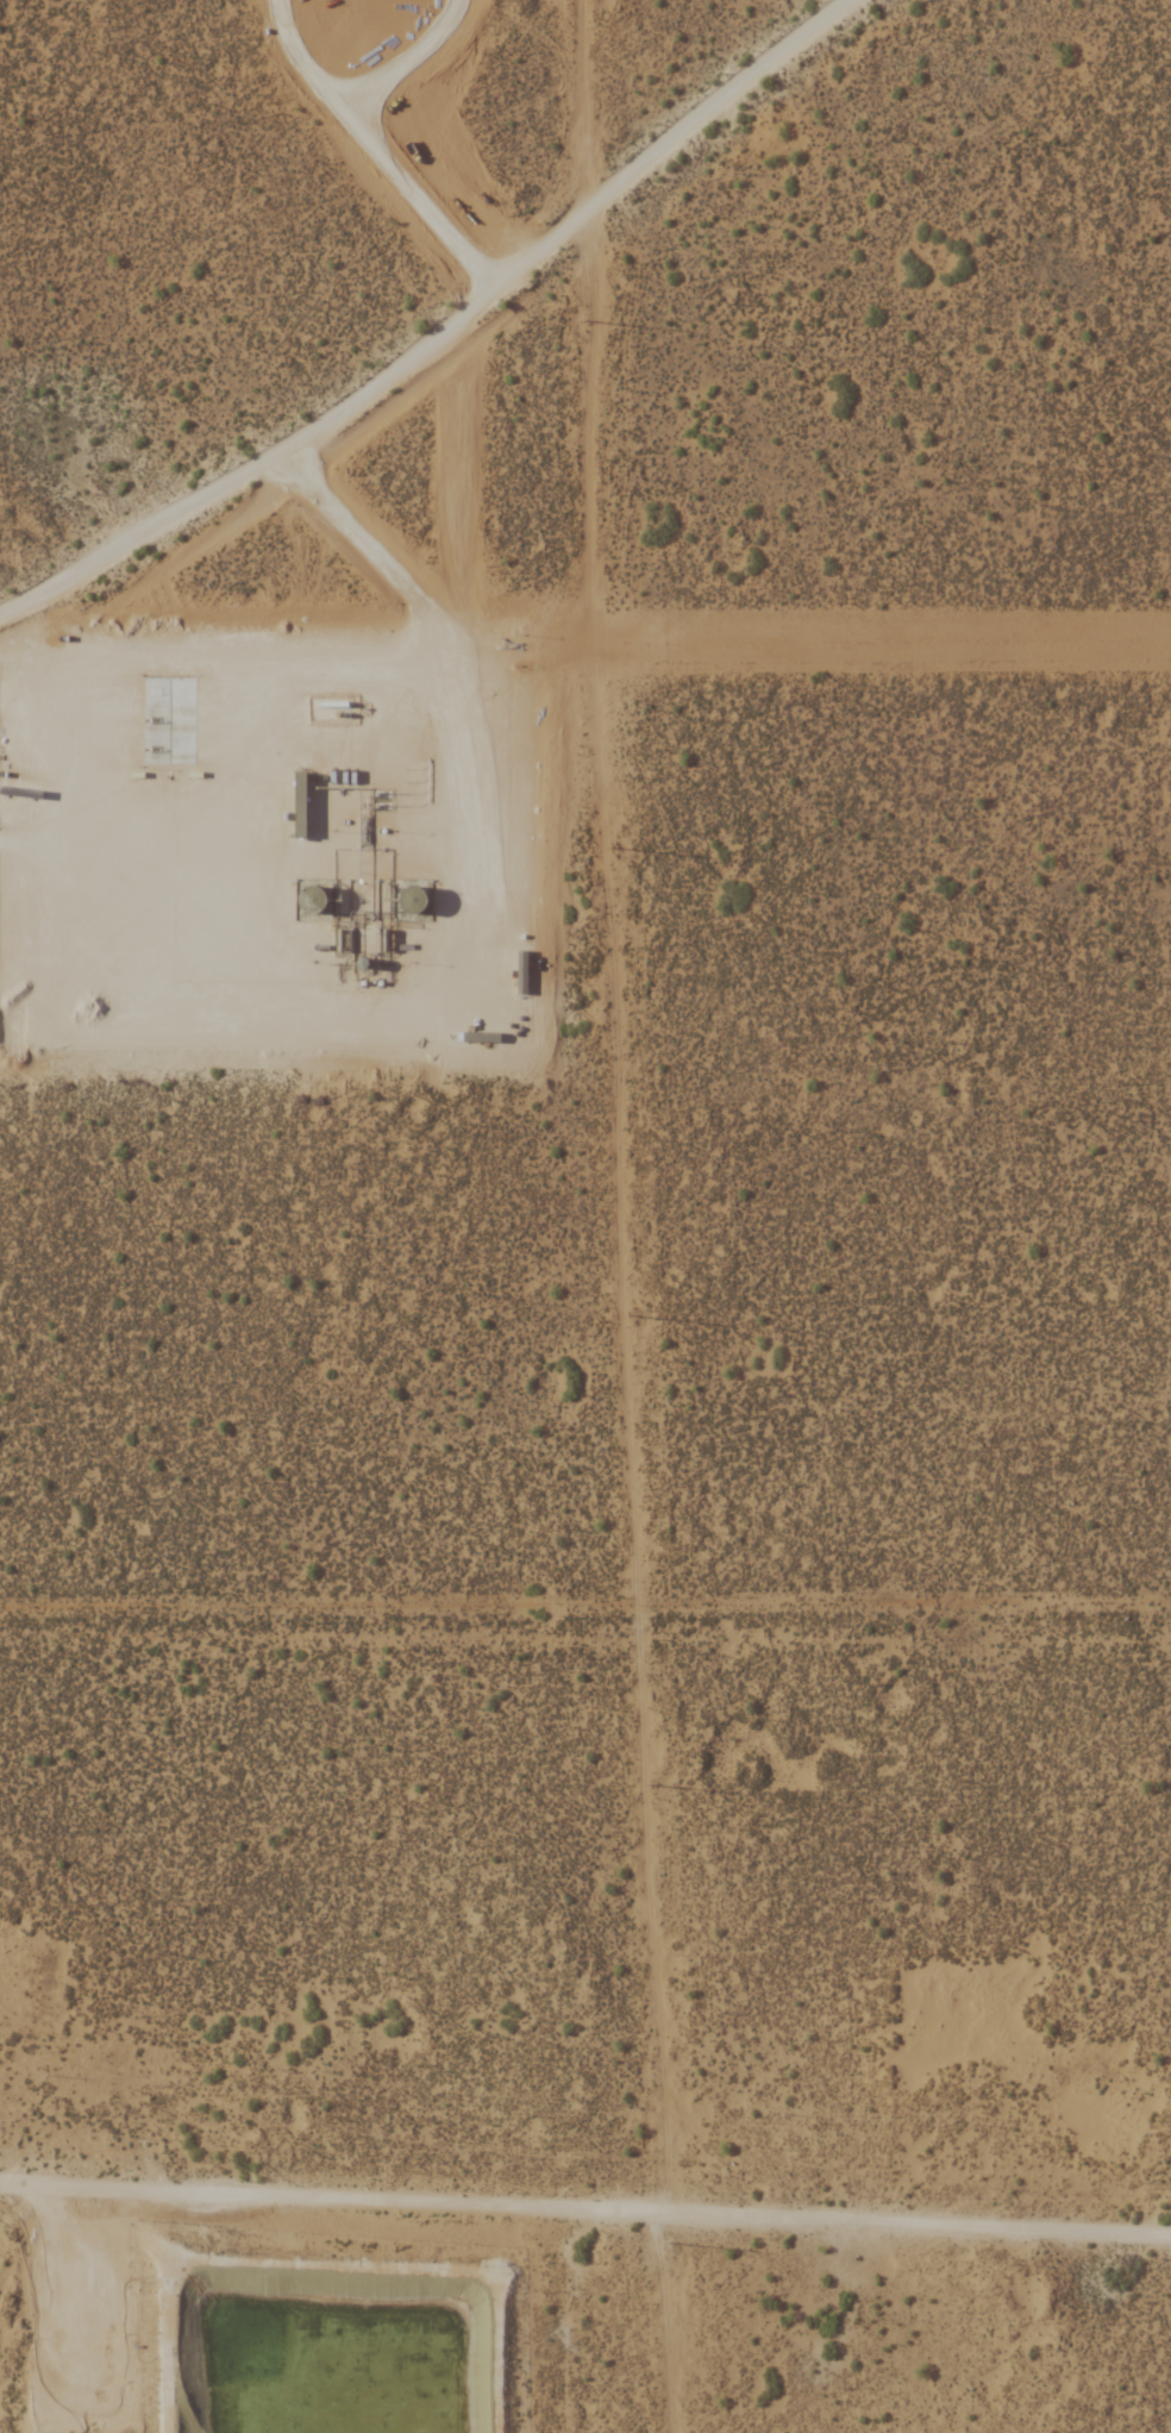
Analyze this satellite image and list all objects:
road: (437, 330)
road: (223, 655)
road: (465, 938)
road: (584, 2207)

